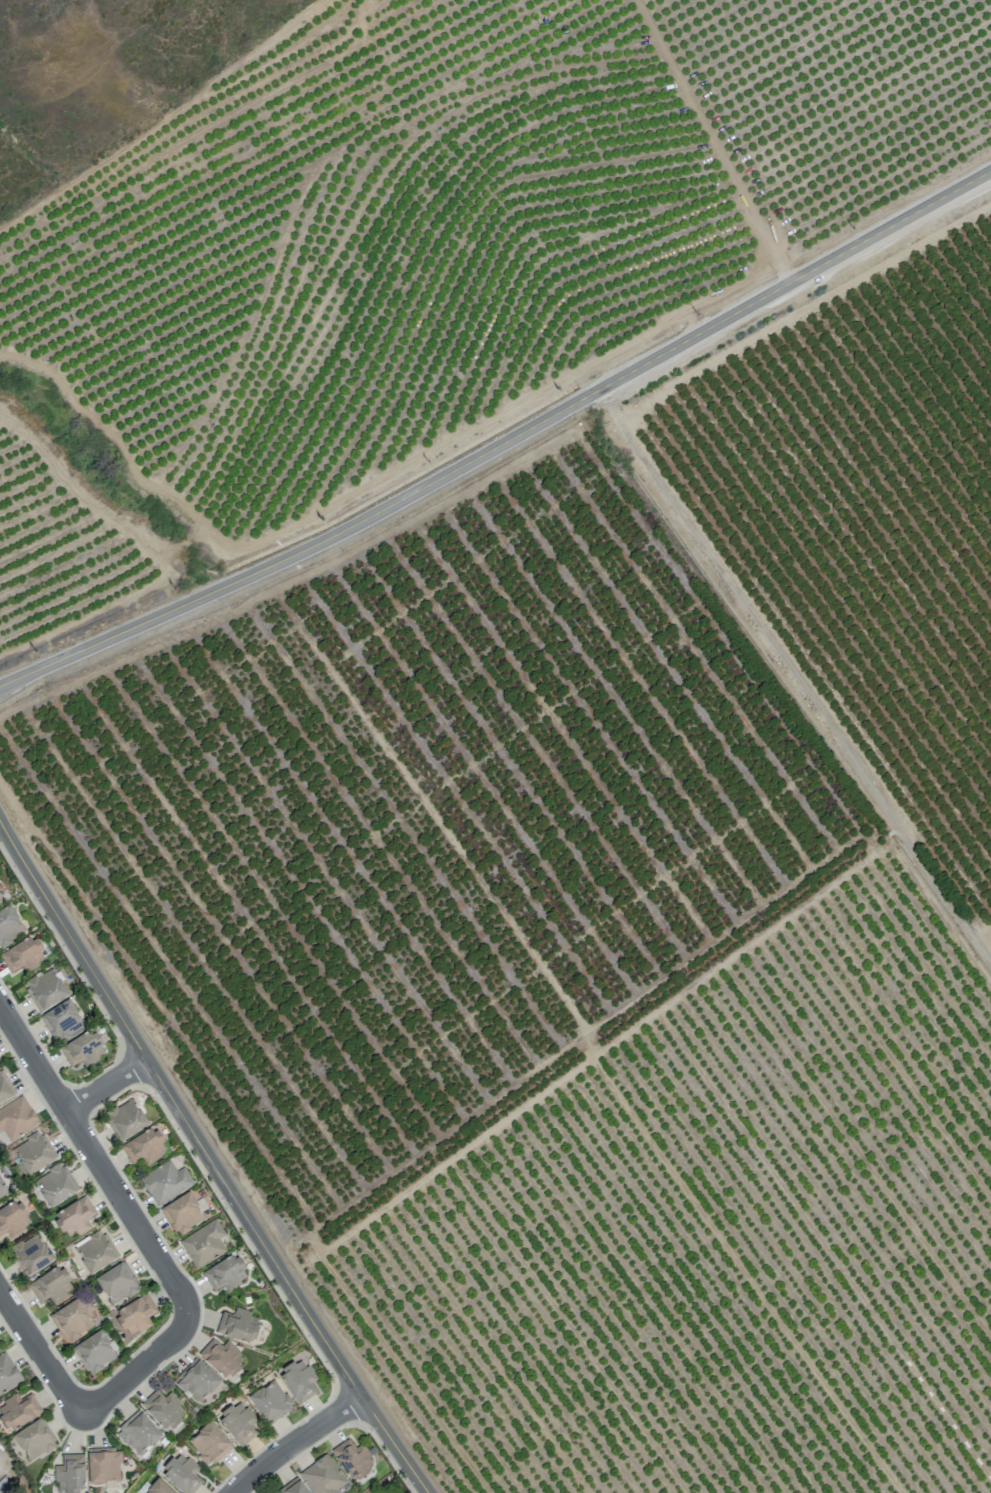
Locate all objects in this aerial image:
road: (793, 279)
road: (303, 549)
road: (794, 676)
building: (1, 901)
building: (9, 926)
building: (23, 955)
building: (45, 989)
building: (62, 1021)
building: (83, 1049)
road: (110, 1087)
building: (4, 1089)
building: (17, 1118)
building: (125, 1120)
building: (144, 1146)
building: (33, 1153)
road: (210, 1159)
road: (100, 1161)
building: (165, 1182)
building: (55, 1185)
building: (2, 1191)
building: (182, 1213)
building: (13, 1218)
building: (74, 1218)
building: (203, 1243)
building: (95, 1252)
building: (31, 1254)
building: (226, 1273)
building: (117, 1283)
building: (51, 1285)
building: (135, 1315)
building: (71, 1320)
building: (238, 1325)
building: (94, 1351)
road: (43, 1353)
building: (221, 1357)
road: (140, 1372)
building: (8, 1373)
building: (196, 1380)
building: (298, 1380)
building: (270, 1401)
building: (163, 1409)
building: (18, 1410)
building: (138, 1432)
building: (34, 1440)
road: (295, 1442)
building: (209, 1443)
building: (352, 1459)
building: (104, 1465)
building: (182, 1473)
building: (324, 1476)
building: (159, 1487)
building: (293, 1487)

